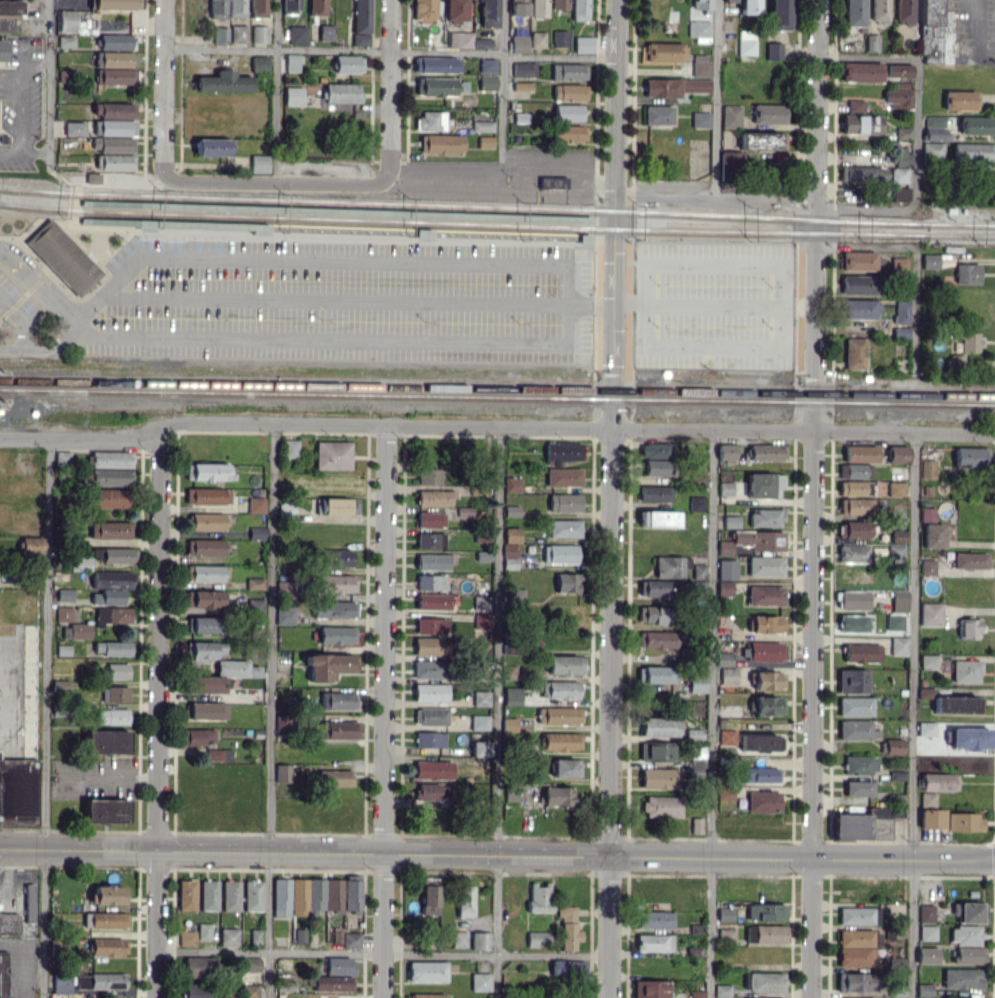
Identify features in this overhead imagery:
building: (112, 4)
building: (559, 4)
building: (292, 6)
building: (747, 6)
building: (317, 7)
building: (519, 7)
building: (237, 8)
building: (258, 8)
building: (539, 8)
building: (424, 10)
building: (579, 10)
building: (880, 11)
building: (855, 12)
building: (905, 12)
building: (488, 13)
building: (780, 14)
building: (9, 15)
building: (67, 20)
building: (363, 22)
building: (700, 30)
building: (326, 32)
building: (238, 33)
building: (936, 33)
building: (220, 34)
building: (259, 34)
building: (297, 34)
building: (560, 38)
building: (537, 39)
building: (466, 40)
building: (65, 41)
building: (114, 41)
building: (747, 42)
building: (873, 42)
building: (519, 43)
building: (583, 44)
road: (279, 49)
building: (2, 50)
building: (774, 50)
road: (447, 51)
building: (663, 52)
road: (558, 56)
building: (114, 59)
building: (292, 62)
building: (259, 63)
building: (348, 64)
building: (437, 64)
building: (487, 65)
building: (701, 65)
building: (524, 69)
building: (569, 71)
building: (862, 71)
building: (901, 74)
building: (66, 75)
building: (116, 75)
road: (167, 81)
building: (223, 82)
building: (488, 82)
road: (502, 85)
building: (440, 86)
building: (522, 86)
road: (918, 86)
road: (46, 87)
road: (390, 88)
road: (275, 91)
building: (570, 92)
building: (342, 94)
building: (293, 96)
road: (715, 98)
building: (900, 98)
building: (961, 100)
building: (857, 105)
building: (112, 109)
road: (20, 112)
building: (568, 112)
building: (769, 113)
building: (659, 114)
building: (732, 116)
building: (431, 120)
building: (702, 120)
building: (862, 123)
building: (977, 125)
building: (483, 126)
building: (114, 127)
building: (74, 128)
building: (935, 128)
building: (569, 133)
building: (904, 133)
building: (1, 138)
building: (759, 140)
building: (486, 141)
building: (441, 143)
building: (112, 144)
building: (211, 147)
building: (934, 150)
building: (974, 151)
building: (117, 162)
building: (259, 163)
building: (731, 163)
building: (864, 173)
building: (900, 174)
road: (108, 176)
road: (387, 178)
building: (553, 182)
railway: (43, 192)
building: (901, 192)
road: (714, 196)
railway: (465, 204)
railway: (465, 206)
railway: (335, 208)
railway: (44, 209)
road: (866, 209)
road: (818, 215)
railway: (469, 222)
railway: (963, 223)
railway: (469, 224)
building: (180, 225)
railway: (329, 225)
railway: (967, 234)
road: (868, 247)
road: (356, 257)
building: (61, 258)
building: (862, 260)
road: (717, 261)
building: (901, 265)
building: (969, 273)
building: (860, 284)
road: (40, 285)
road: (107, 290)
road: (337, 295)
parking lot: (344, 299)
road: (569, 301)
road: (675, 302)
parking lot: (715, 305)
building: (862, 308)
road: (918, 310)
building: (903, 312)
road: (76, 328)
building: (902, 332)
road: (327, 337)
building: (971, 342)
road: (714, 345)
road: (39, 348)
building: (856, 353)
building: (960, 360)
railway: (497, 388)
railway: (497, 399)
road: (489, 428)
road: (905, 432)
road: (81, 438)
building: (291, 448)
building: (656, 450)
building: (564, 452)
building: (767, 452)
building: (728, 453)
building: (862, 453)
building: (899, 454)
building: (333, 455)
building: (973, 457)
building: (63, 458)
building: (111, 459)
building: (658, 467)
building: (929, 469)
building: (857, 471)
building: (207, 472)
building: (565, 476)
building: (111, 477)
building: (514, 484)
building: (766, 485)
building: (447, 487)
building: (727, 488)
building: (856, 488)
building: (898, 489)
building: (657, 493)
building: (208, 496)
building: (111, 497)
road: (610, 498)
building: (566, 502)
building: (699, 503)
building: (257, 505)
building: (861, 506)
building: (288, 511)
building: (513, 511)
building: (929, 514)
building: (767, 517)
building: (660, 518)
building: (432, 519)
building: (208, 521)
building: (733, 521)
building: (566, 528)
building: (854, 529)
building: (113, 530)
building: (258, 533)
building: (934, 535)
building: (900, 536)
building: (432, 540)
building: (755, 541)
building: (30, 545)
building: (205, 547)
building: (512, 548)
building: (855, 553)
building: (898, 553)
building: (113, 554)
building: (561, 554)
building: (339, 558)
building: (971, 560)
building: (433, 561)
building: (79, 563)
building: (672, 566)
building: (767, 566)
building: (929, 566)
building: (728, 569)
building: (700, 571)
building: (204, 573)
building: (112, 579)
building: (432, 582)
building: (568, 583)
building: (256, 584)
building: (339, 584)
building: (700, 587)
building: (659, 588)
building: (65, 595)
building: (519, 595)
building: (767, 595)
building: (112, 596)
building: (204, 599)
building: (854, 599)
building: (434, 601)
building: (901, 601)
building: (482, 603)
building: (259, 609)
building: (335, 609)
building: (64, 613)
building: (932, 613)
building: (655, 614)
building: (113, 615)
building: (286, 615)
building: (484, 621)
building: (896, 621)
building: (854, 623)
building: (204, 624)
building: (768, 624)
building: (432, 625)
building: (970, 628)
building: (80, 630)
building: (338, 635)
building: (658, 640)
building: (900, 645)
building: (430, 646)
building: (113, 648)
building: (480, 650)
building: (205, 651)
building: (766, 651)
building: (863, 653)
building: (725, 659)
building: (929, 660)
building: (565, 664)
building: (329, 665)
building: (431, 669)
building: (118, 671)
building: (967, 671)
building: (510, 672)
building: (659, 674)
building: (223, 676)
building: (729, 676)
building: (768, 680)
building: (854, 681)
building: (699, 683)
building: (60, 685)
building: (561, 690)
building: (431, 692)
building: (115, 693)
building: (513, 696)
building: (482, 698)
building: (339, 700)
building: (953, 702)
building: (766, 705)
building: (856, 706)
building: (207, 710)
road: (157, 712)
road: (270, 712)
road: (387, 713)
road: (500, 713)
road: (711, 713)
road: (813, 714)
building: (560, 715)
road: (915, 715)
building: (112, 716)
building: (432, 716)
road: (45, 718)
building: (481, 722)
building: (511, 724)
building: (660, 726)
building: (927, 728)
building: (340, 730)
building: (858, 730)
building: (199, 736)
building: (728, 737)
building: (970, 738)
building: (431, 739)
building: (107, 741)
building: (561, 741)
building: (759, 741)
building: (894, 746)
building: (481, 748)
building: (657, 752)
building: (219, 754)
building: (697, 763)
building: (861, 764)
building: (567, 768)
building: (433, 770)
building: (284, 773)
building: (759, 775)
road: (109, 778)
building: (338, 778)
building: (659, 778)
building: (939, 781)
building: (859, 788)
building: (18, 792)
building: (726, 792)
building: (434, 793)
building: (515, 793)
building: (559, 796)
building: (764, 801)
building: (662, 806)
building: (106, 810)
building: (931, 812)
building: (965, 822)
building: (866, 823)
road: (21, 844)
road: (517, 853)
road: (22, 854)
road: (992, 858)
building: (353, 893)
building: (107, 894)
building: (187, 894)
building: (209, 895)
building: (231, 895)
building: (253, 895)
building: (282, 896)
building: (316, 896)
building: (430, 896)
building: (540, 897)
building: (465, 901)
building: (767, 911)
building: (970, 912)
building: (927, 913)
building: (725, 914)
building: (859, 915)
building: (108, 919)
building: (655, 919)
building: (9, 924)
building: (568, 927)
building: (697, 928)
building: (205, 931)
building: (928, 932)
building: (765, 934)
building: (300, 935)
building: (727, 935)
building: (965, 935)
building: (229, 936)
building: (187, 937)
building: (459, 939)
building: (538, 939)
building: (352, 940)
building: (481, 940)
building: (654, 942)
building: (107, 946)
building: (858, 947)
building: (695, 951)
road: (381, 952)
building: (927, 955)
building: (969, 955)
building: (252, 964)
building: (896, 964)
building: (199, 966)
building: (340, 966)
building: (568, 970)
building: (427, 971)
building: (3, 974)
building: (963, 978)
building: (102, 981)
building: (481, 981)
building: (766, 981)
building: (857, 981)
building: (333, 983)
building: (62, 984)
building: (650, 989)
building: (723, 990)
building: (897, 990)
building: (924, 990)
building: (202, 991)
building: (250, 991)
building: (697, 993)
building: (428, 995)
building: (764, 997)
building: (854, 997)

